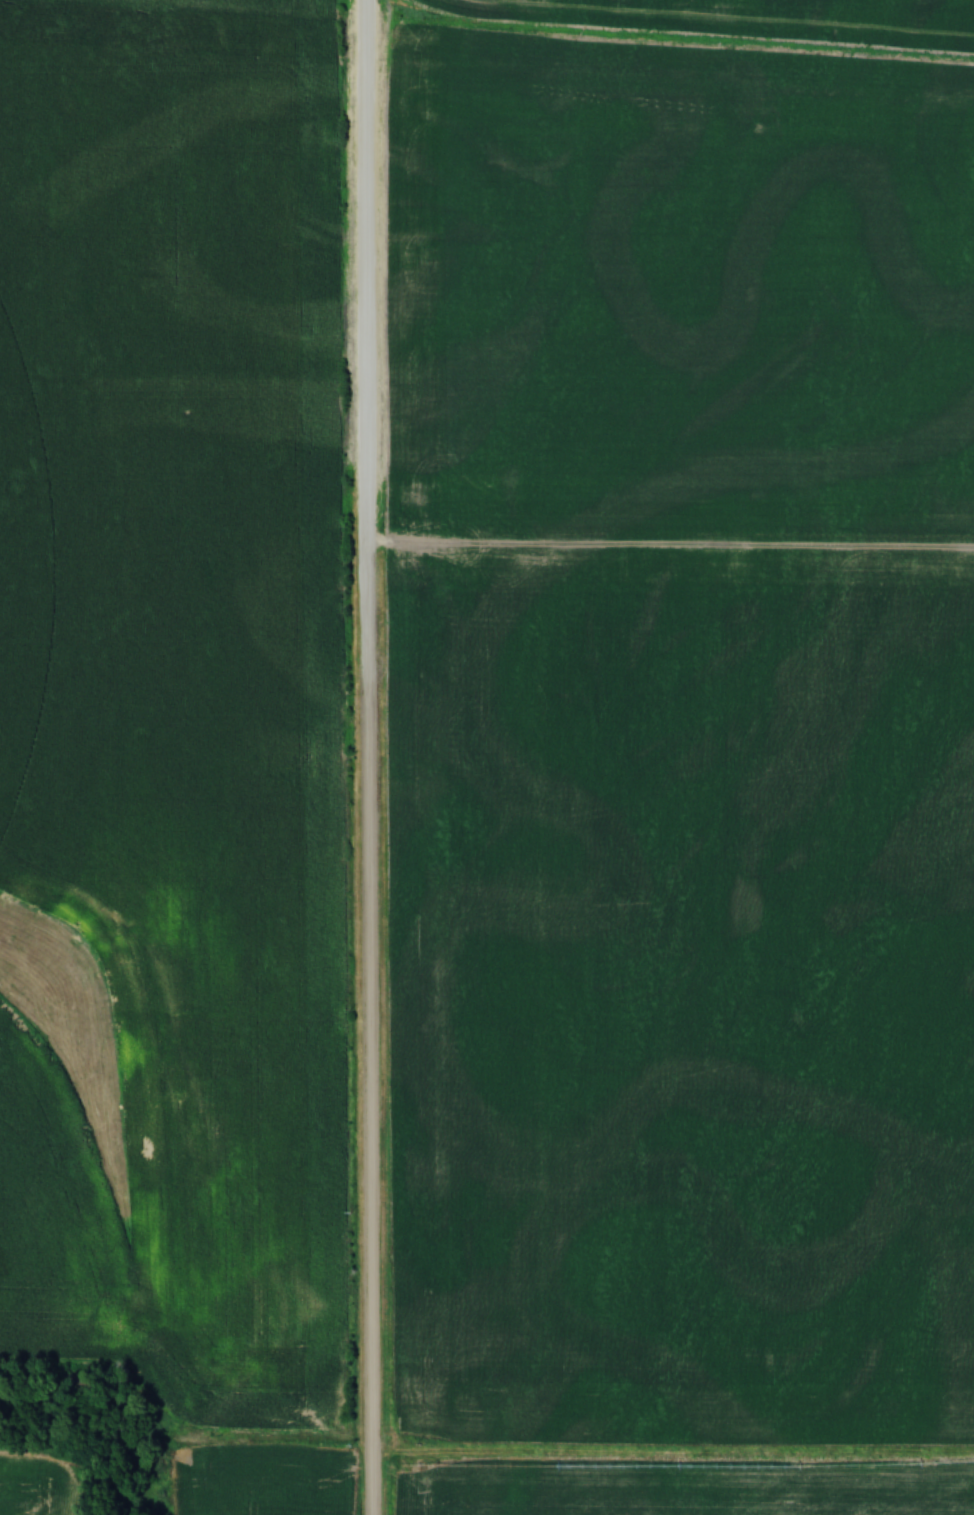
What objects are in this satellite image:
road: (370, 757)

